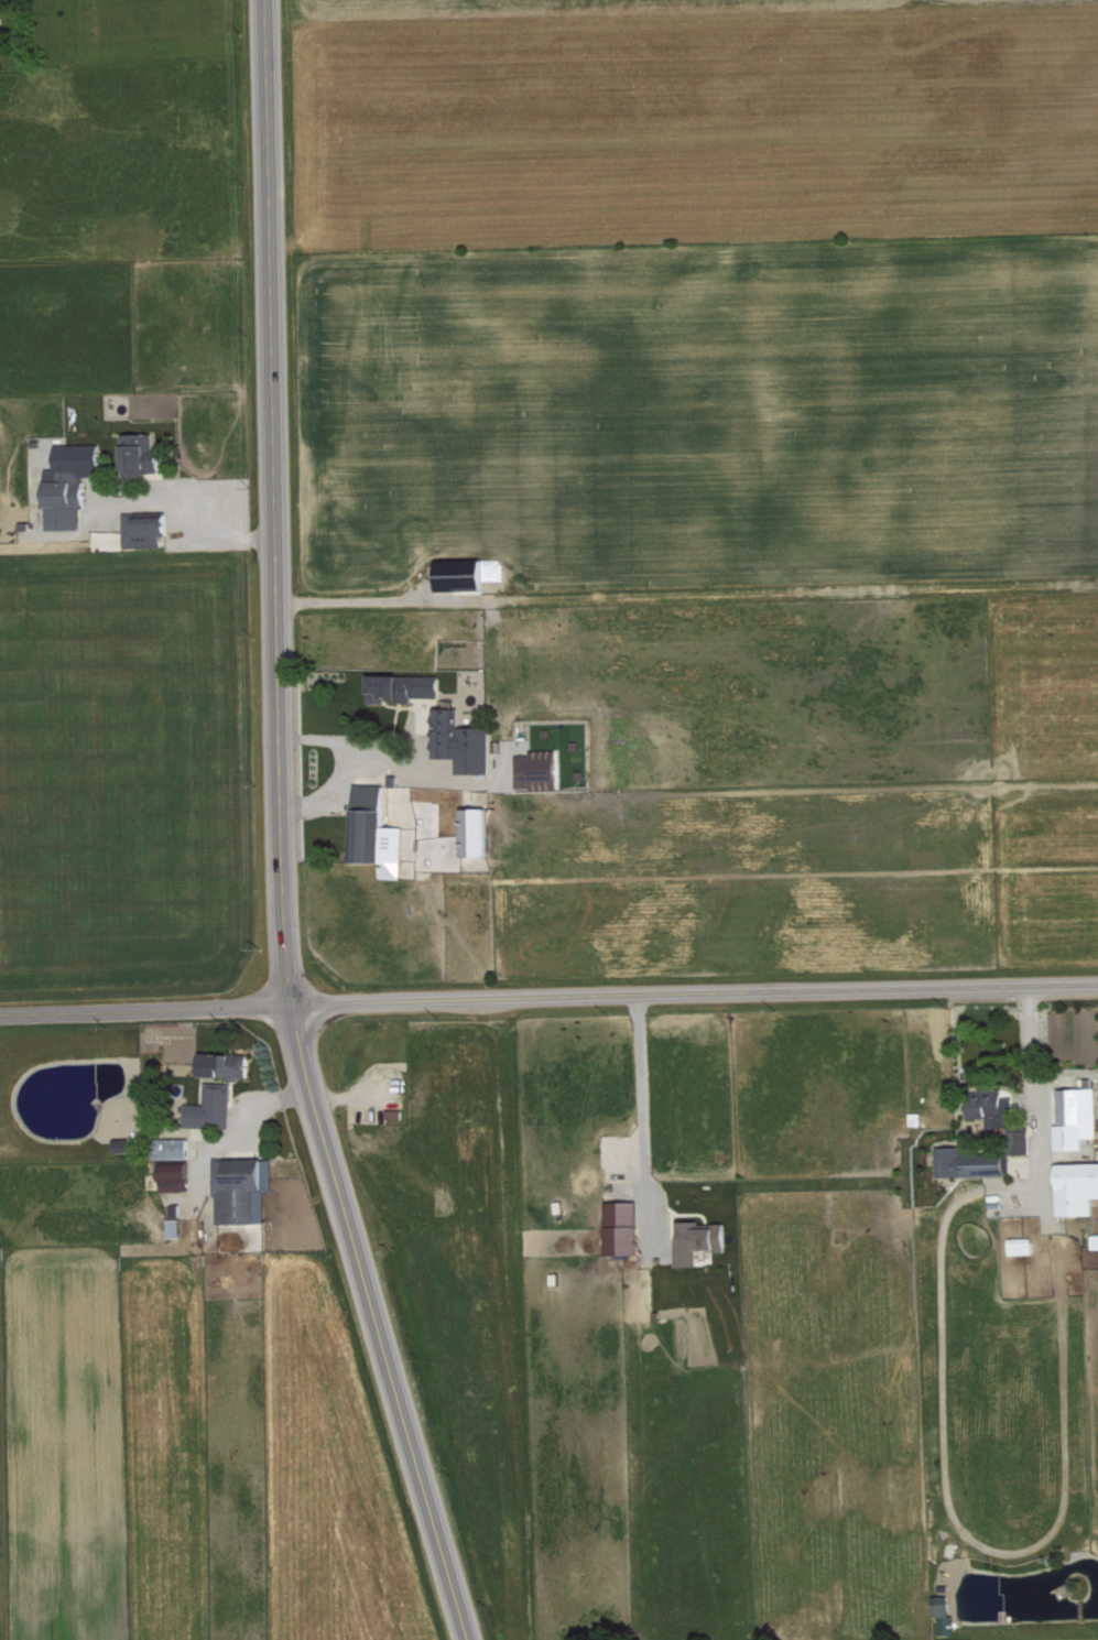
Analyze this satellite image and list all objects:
building: (0, 23)
building: (138, 452)
building: (68, 482)
road: (279, 502)
road: (187, 525)
building: (458, 573)
building: (402, 685)
building: (460, 740)
road: (363, 761)
building: (536, 769)
building: (472, 829)
building: (373, 830)
road: (548, 996)
building: (222, 1064)
road: (1034, 1083)
building: (991, 1105)
building: (209, 1108)
road: (643, 1115)
building: (1076, 1116)
building: (1019, 1140)
building: (121, 1143)
building: (172, 1147)
building: (970, 1161)
building: (173, 1175)
building: (1076, 1186)
building: (240, 1188)
building: (173, 1226)
building: (621, 1226)
building: (697, 1240)
building: (1095, 1240)
building: (1021, 1245)
road: (380, 1323)
building: (944, 1617)

